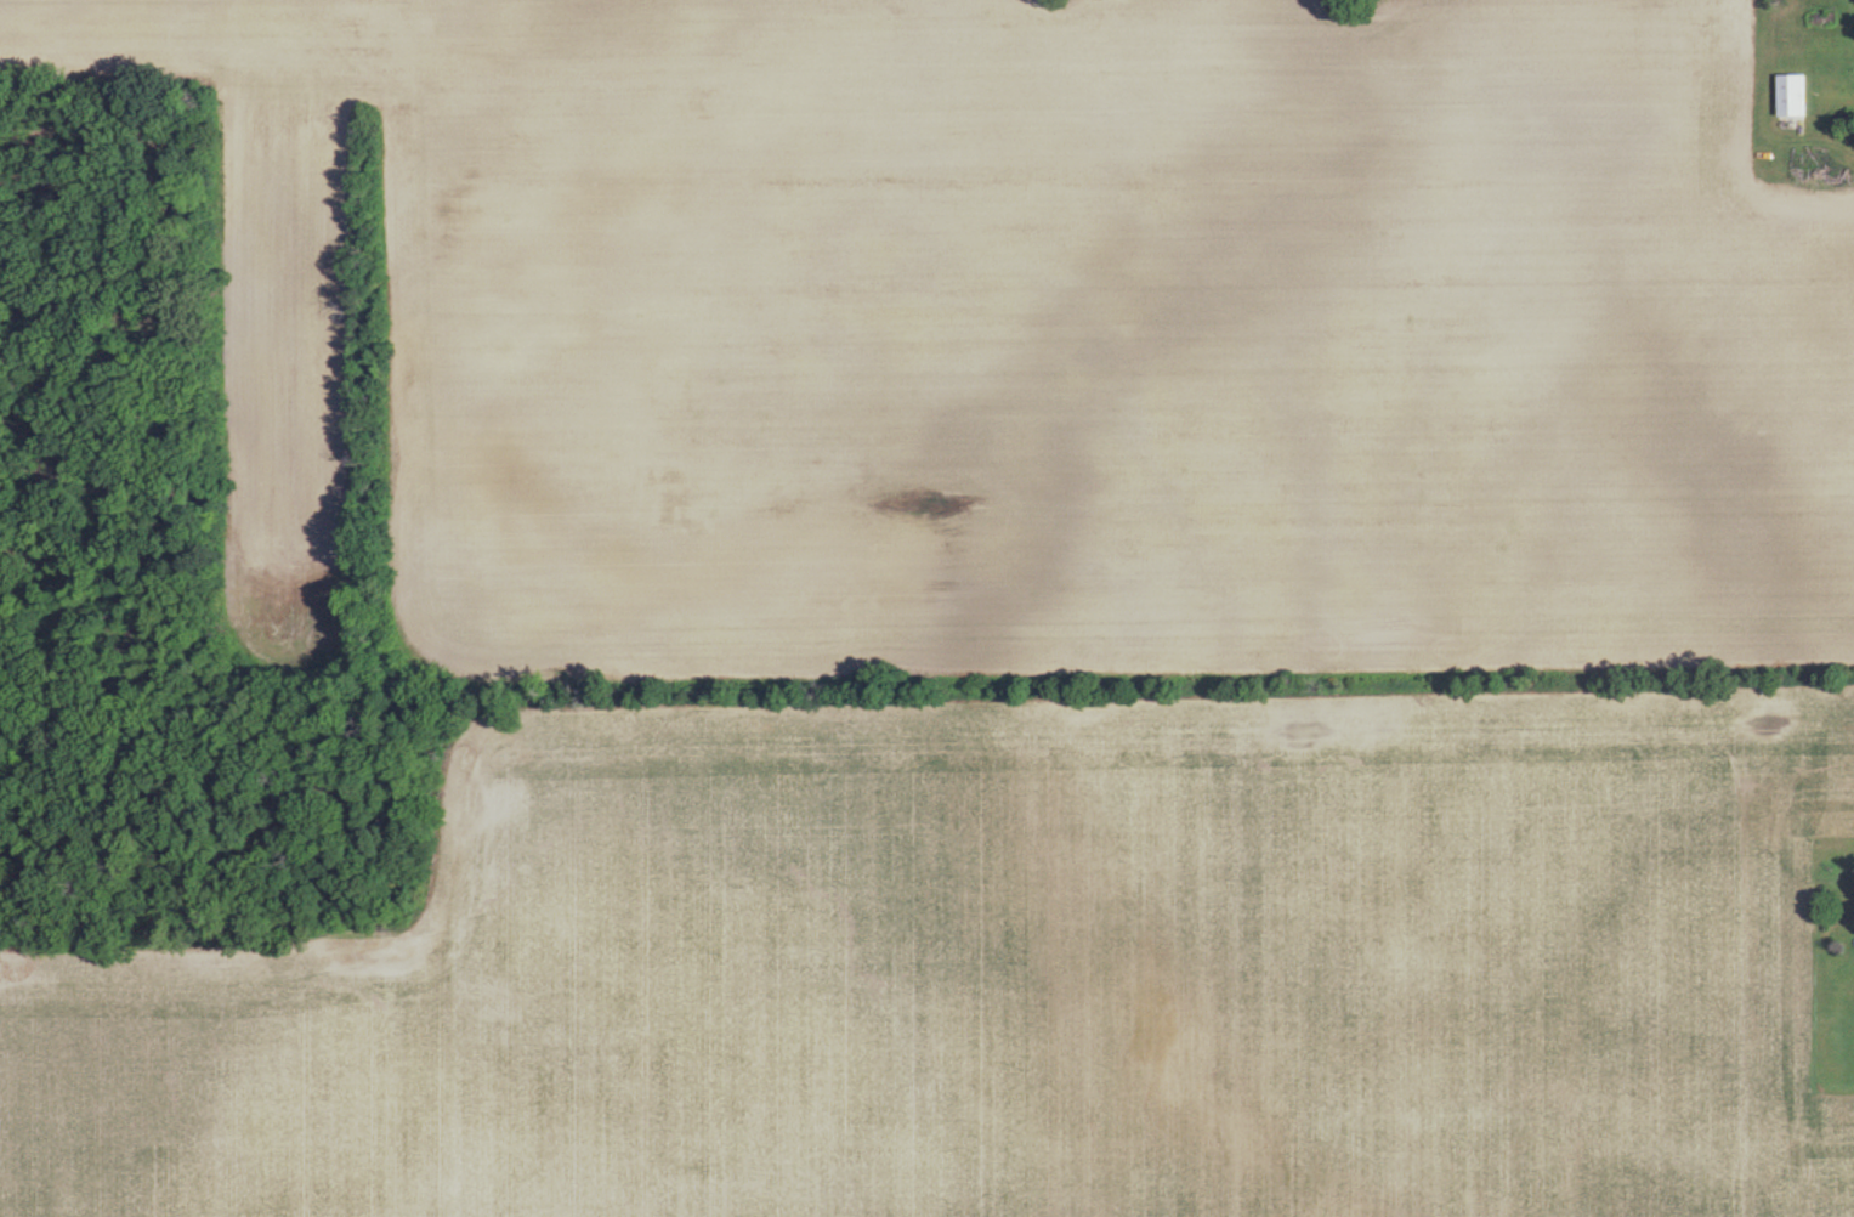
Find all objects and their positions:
building: (1786, 95)

